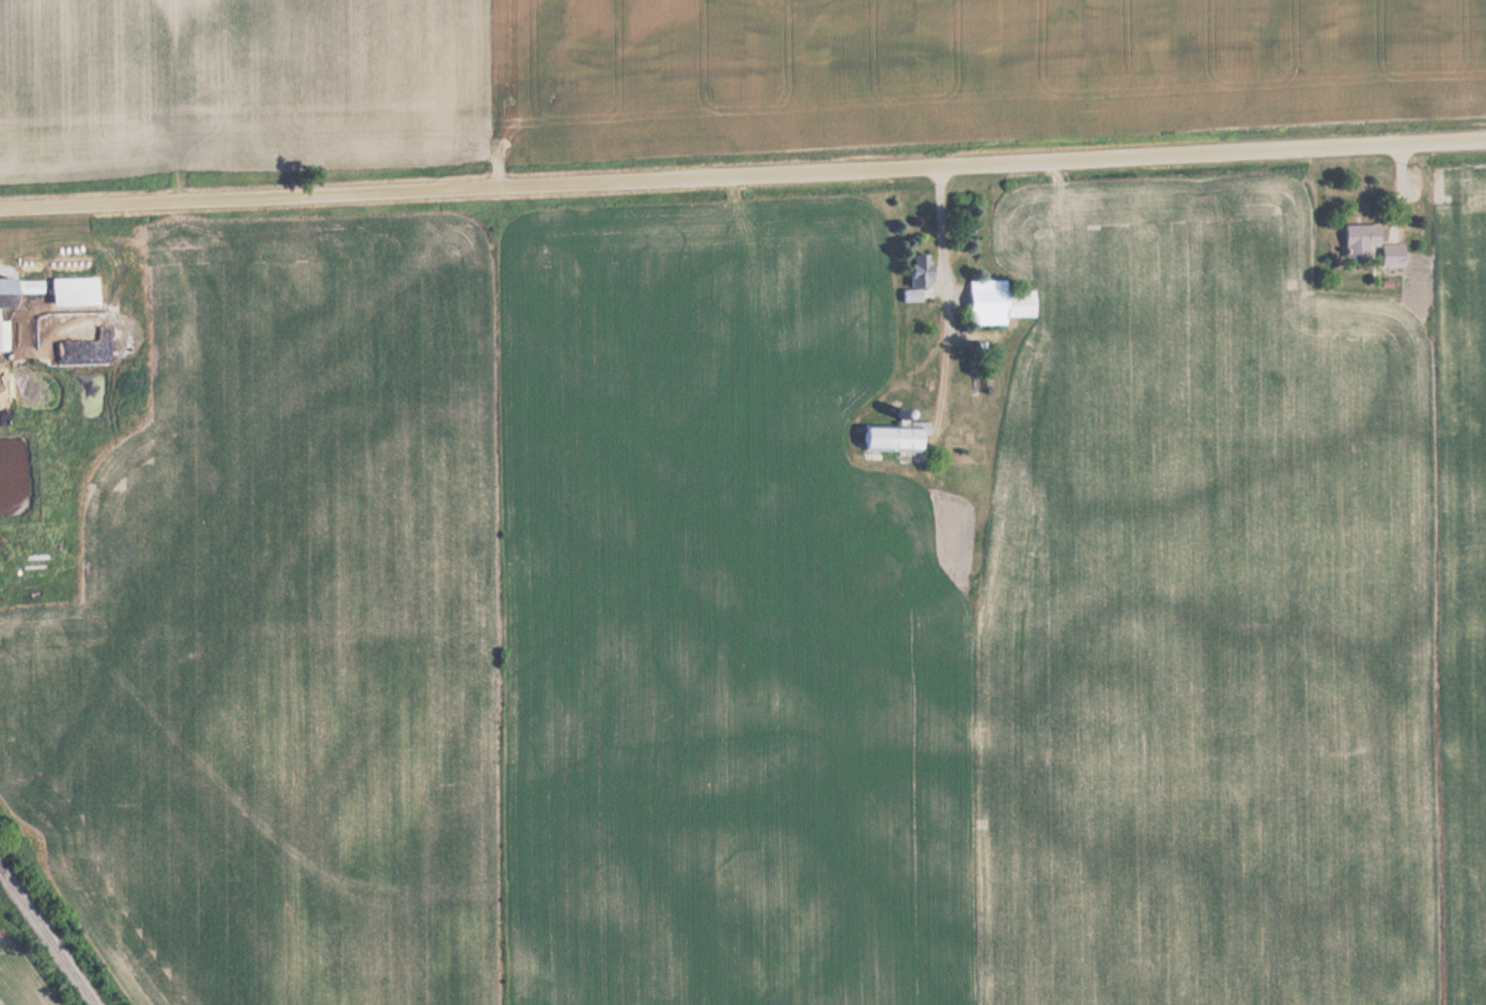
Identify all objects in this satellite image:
road: (743, 172)
building: (1355, 237)
building: (1388, 252)
building: (913, 269)
building: (70, 290)
building: (2, 293)
building: (996, 302)
building: (2, 335)
building: (892, 435)
railway: (48, 936)

